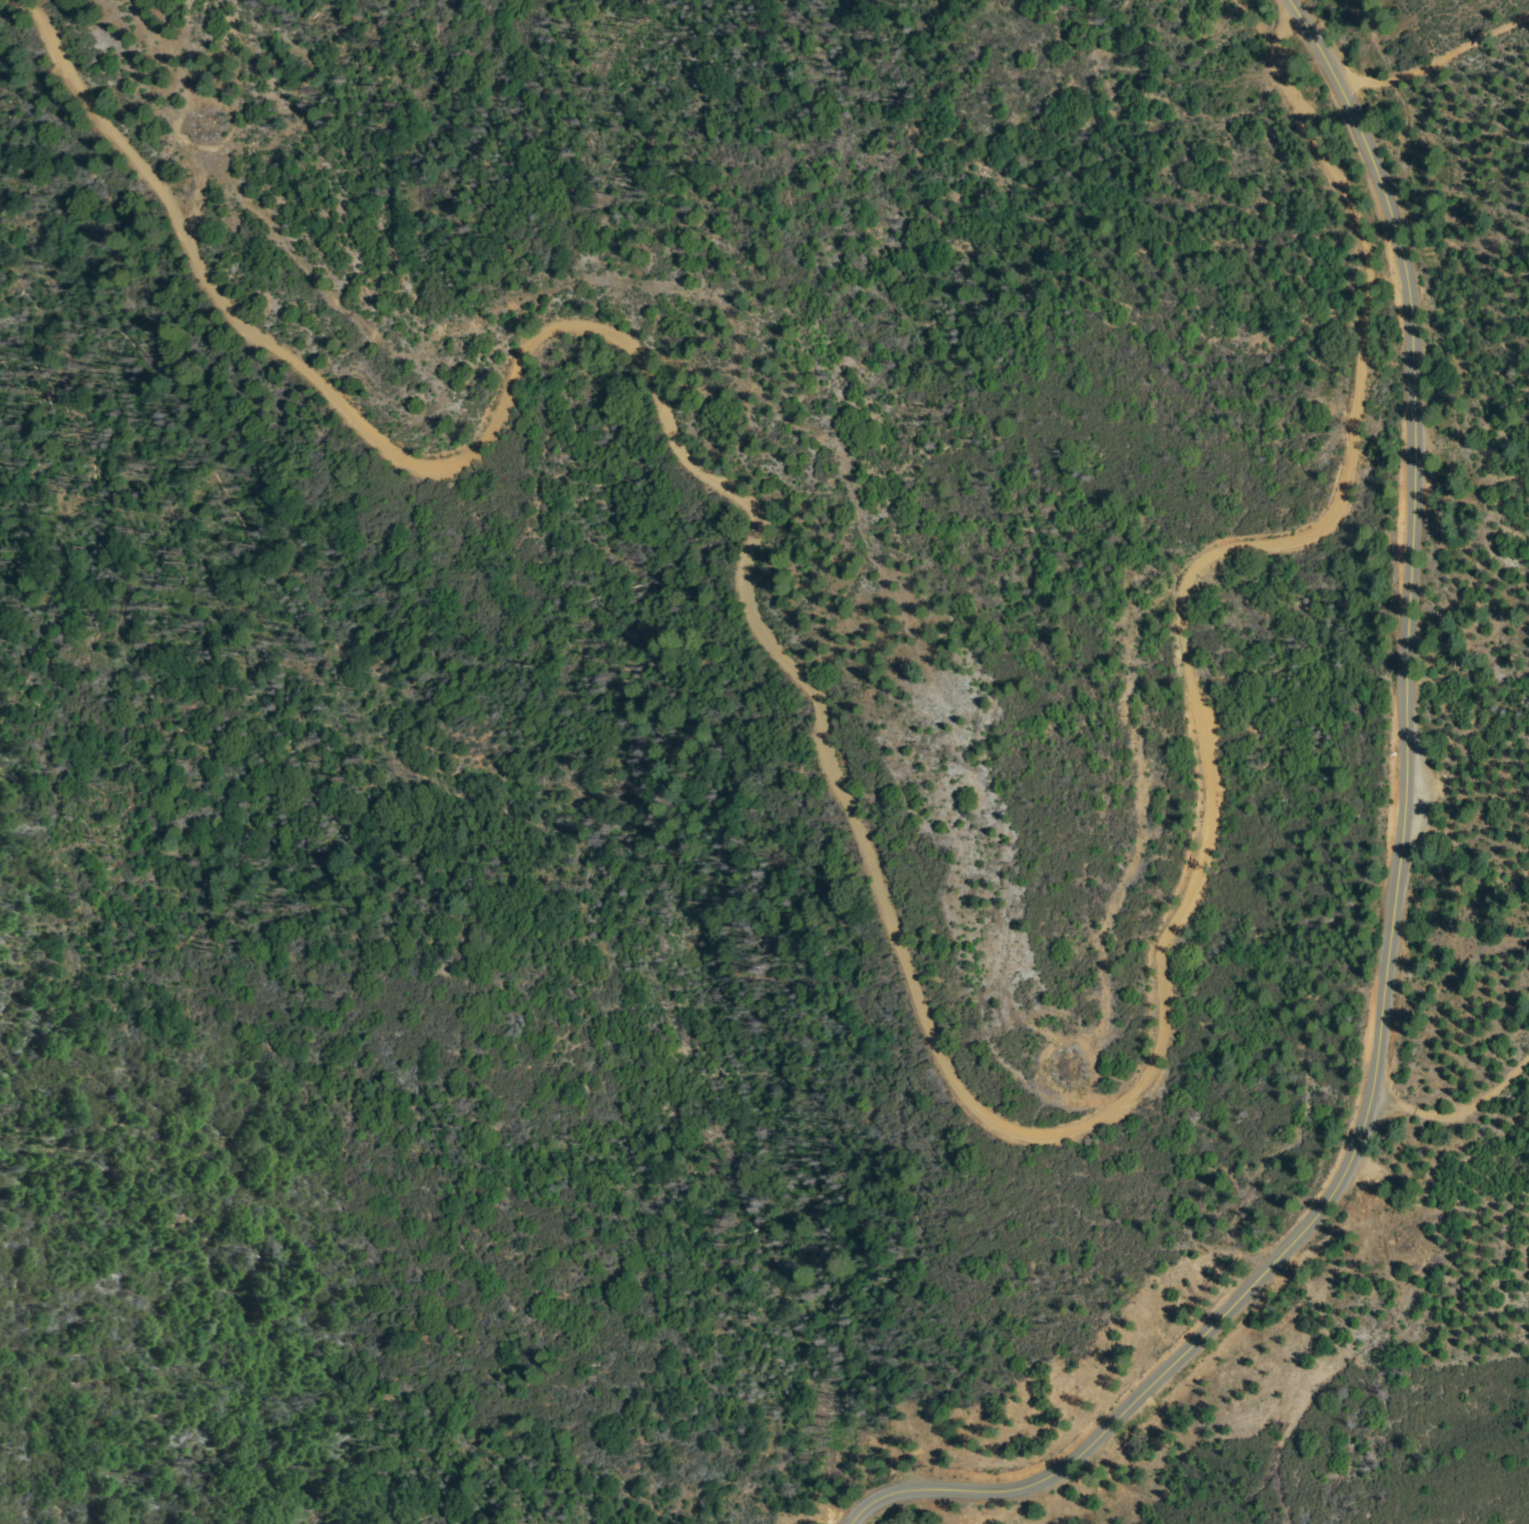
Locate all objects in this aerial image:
road: (1399, 898)
road: (905, 949)
road: (1457, 1120)

